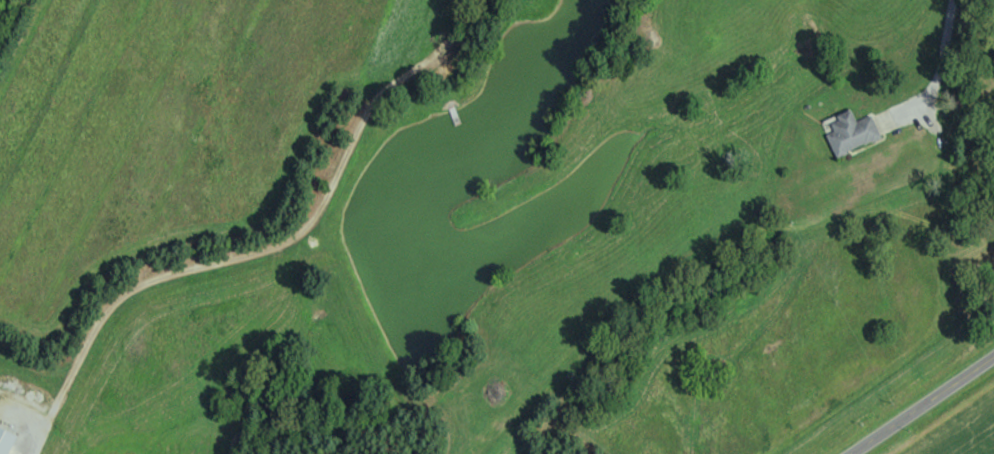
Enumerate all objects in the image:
building: (851, 132)
road: (922, 402)
building: (5, 440)

